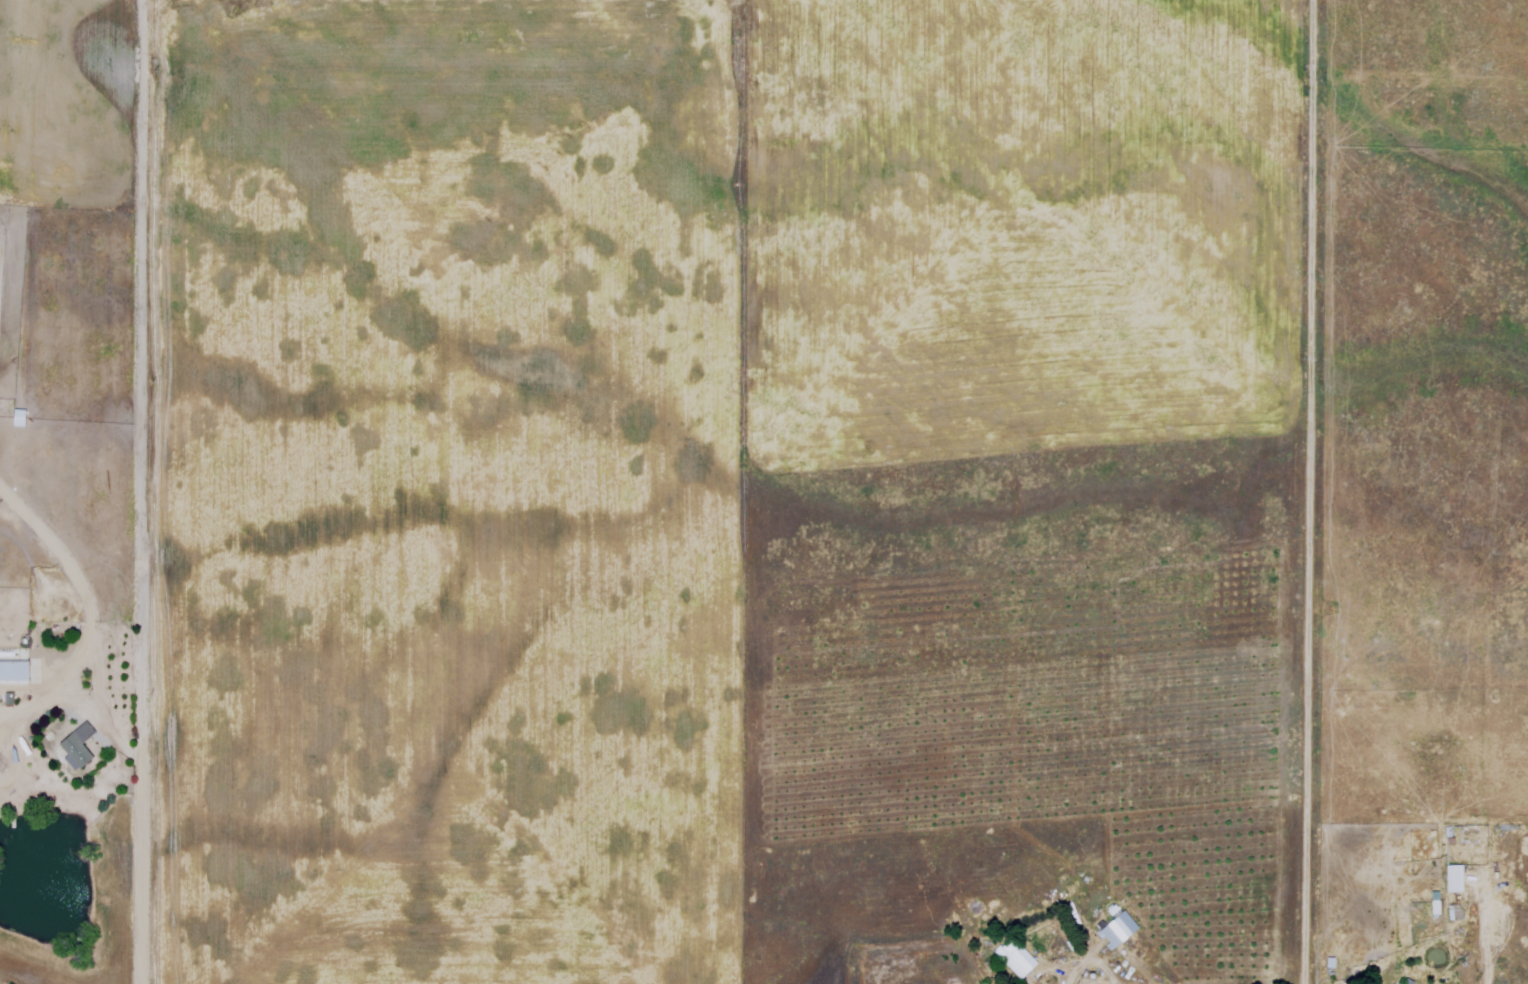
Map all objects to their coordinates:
building: (17, 419)
road: (1307, 491)
road: (145, 492)
building: (14, 672)
road: (73, 697)
building: (79, 746)
building: (1454, 878)
building: (1437, 903)
building: (1119, 930)
building: (1018, 959)
building: (1331, 966)
building: (1410, 981)

